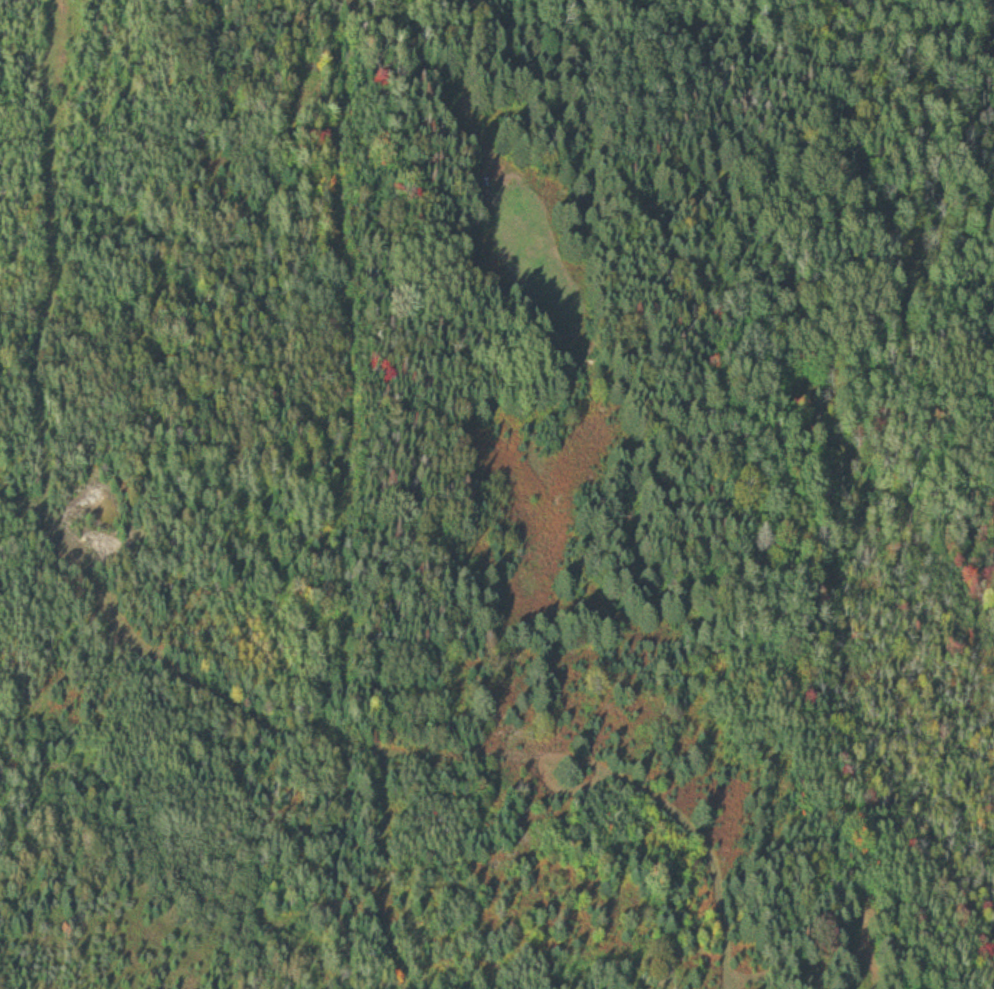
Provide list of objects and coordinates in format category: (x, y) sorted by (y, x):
road: (787, 9)

